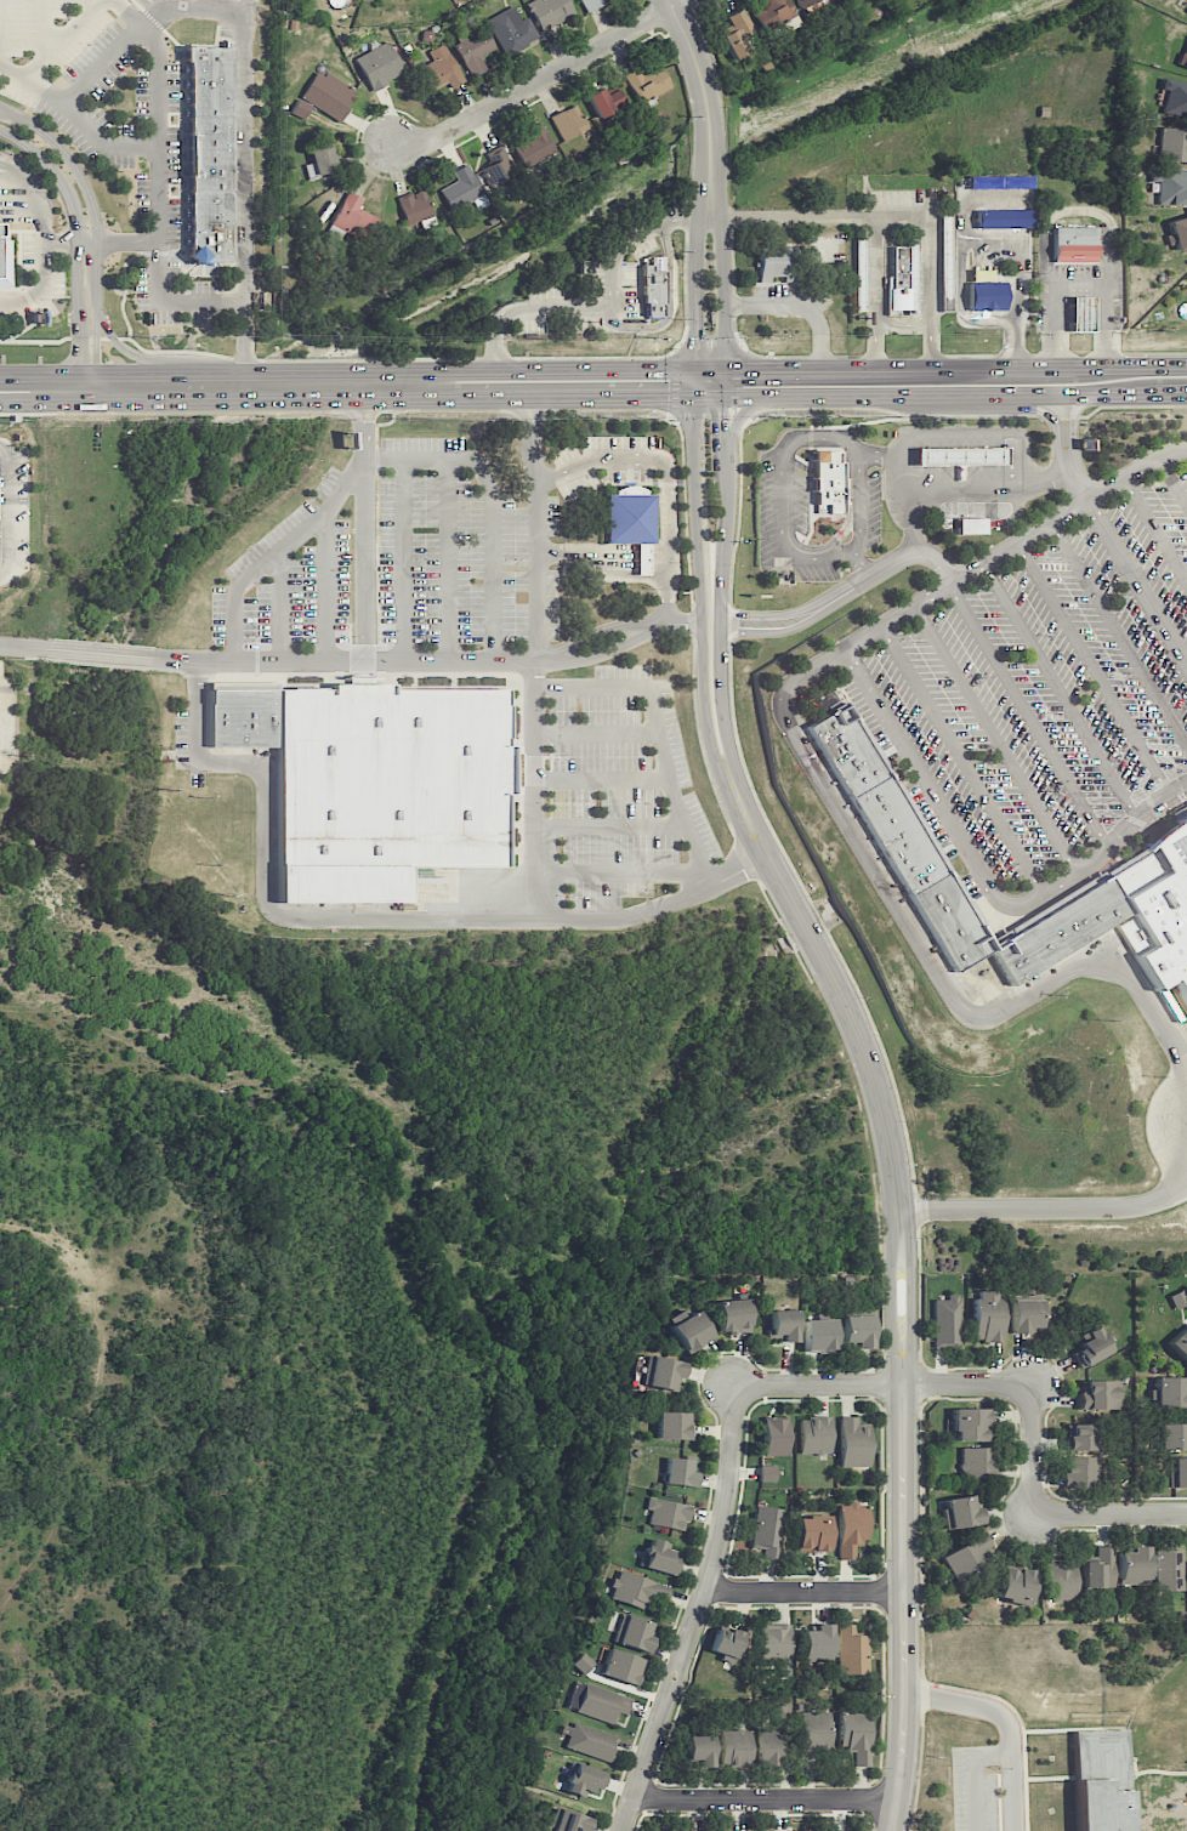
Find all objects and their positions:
building: (407, 0)
building: (807, 2)
building: (589, 4)
road: (87, 7)
building: (549, 11)
building: (780, 13)
building: (1186, 13)
road: (0, 21)
road: (142, 28)
road: (44, 30)
building: (511, 30)
building: (736, 34)
parking lot: (46, 39)
road: (64, 39)
building: (475, 50)
building: (1183, 57)
building: (379, 66)
building: (441, 69)
road: (544, 79)
road: (30, 81)
building: (646, 83)
building: (328, 93)
building: (1174, 96)
building: (603, 101)
road: (708, 101)
building: (300, 108)
building: (568, 121)
road: (101, 146)
building: (534, 146)
building: (1172, 146)
parking lot: (136, 153)
building: (209, 153)
building: (322, 163)
building: (498, 166)
building: (1170, 186)
building: (462, 189)
road: (243, 199)
road: (36, 203)
road: (159, 204)
building: (414, 206)
road: (1077, 211)
road: (685, 212)
road: (800, 216)
road: (901, 216)
building: (353, 220)
road: (96, 232)
building: (1177, 233)
road: (698, 240)
road: (59, 241)
road: (117, 241)
building: (1073, 243)
road: (983, 245)
parking lot: (644, 248)
road: (75, 249)
road: (615, 251)
building: (5, 261)
building: (945, 261)
building: (777, 266)
building: (858, 272)
building: (901, 274)
parking lot: (598, 277)
building: (653, 284)
road: (40, 286)
road: (1078, 286)
road: (725, 288)
parking lot: (546, 291)
parking lot: (629, 291)
building: (984, 291)
road: (124, 292)
road: (668, 306)
road: (528, 308)
road: (799, 309)
building: (1081, 314)
gas station: (1081, 314)
road: (35, 318)
road: (698, 320)
parking lot: (581, 325)
parking lot: (529, 326)
traffic signals: (698, 339)
road: (56, 341)
road: (130, 354)
road: (461, 358)
road: (592, 369)
traffic signals: (742, 369)
road: (697, 382)
road: (720, 382)
road: (526, 383)
road: (360, 385)
road: (593, 397)
traffic signals: (664, 397)
road: (549, 409)
traffic signals: (720, 422)
road: (733, 425)
road: (1066, 448)
building: (960, 455)
gas station: (960, 455)
road: (1061, 473)
road: (665, 474)
road: (894, 477)
road: (1172, 481)
building: (827, 482)
road: (975, 484)
road: (493, 502)
road: (7, 510)
road: (1067, 510)
building: (630, 518)
building: (972, 525)
road: (1154, 530)
road: (784, 538)
road: (915, 538)
road: (539, 541)
road: (277, 556)
parking lot: (408, 556)
road: (861, 562)
road: (874, 572)
road: (1137, 579)
road: (685, 622)
road: (754, 622)
road: (720, 629)
road: (704, 633)
road: (363, 635)
road: (1118, 636)
road: (603, 639)
road: (10, 646)
road: (86, 652)
road: (451, 660)
road: (1094, 669)
road: (575, 686)
road: (1060, 690)
parking lot: (1044, 692)
building: (245, 713)
road: (1028, 715)
road: (996, 740)
road: (962, 761)
building: (388, 789)
parking lot: (619, 790)
building: (874, 800)
road: (744, 857)
road: (739, 870)
road: (981, 872)
road: (887, 892)
building: (1158, 911)
road: (341, 919)
road: (864, 1050)
road: (863, 1118)
road: (1045, 1210)
building: (1177, 1298)
building: (731, 1315)
building: (987, 1315)
building: (1026, 1315)
building: (947, 1319)
building: (780, 1324)
road: (902, 1324)
building: (691, 1330)
building: (856, 1330)
building: (816, 1335)
building: (1180, 1344)
building: (1091, 1346)
building: (1168, 1393)
building: (1100, 1394)
building: (969, 1425)
building: (672, 1426)
building: (774, 1435)
building: (814, 1435)
building: (1172, 1435)
building: (1079, 1437)
building: (853, 1442)
building: (977, 1462)
building: (678, 1471)
building: (1081, 1471)
building: (767, 1472)
building: (1177, 1472)
road: (727, 1473)
building: (960, 1512)
building: (668, 1513)
road: (1044, 1513)
building: (851, 1528)
building: (767, 1530)
building: (812, 1534)
building: (969, 1554)
building: (658, 1557)
building: (1134, 1565)
building: (1098, 1569)
building: (1169, 1569)
building: (1060, 1581)
building: (1015, 1585)
road: (805, 1593)
road: (905, 1607)
building: (632, 1632)
building: (817, 1642)
building: (725, 1643)
building: (774, 1643)
building: (851, 1650)
building: (581, 1662)
building: (621, 1666)
building: (596, 1702)
road: (1006, 1723)
building: (813, 1730)
building: (854, 1735)
building: (590, 1741)
building: (769, 1746)
building: (734, 1747)
building: (698, 1750)
road: (975, 1776)
building: (583, 1779)
building: (1100, 1780)
road: (767, 1798)
building: (566, 1820)
building: (797, 1830)

